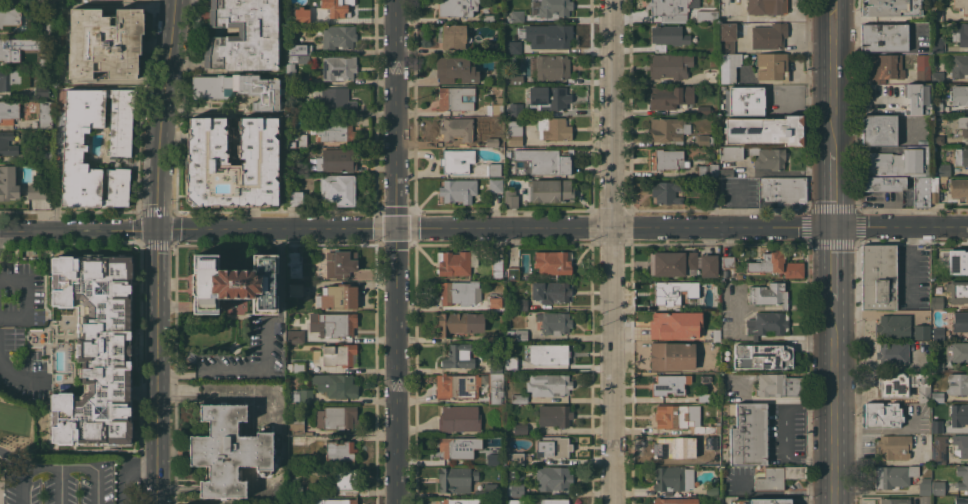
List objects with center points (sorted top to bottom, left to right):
building: (67, 0)
building: (695, 0)
building: (961, 5)
building: (766, 6)
building: (456, 7)
building: (890, 7)
building: (337, 8)
building: (554, 8)
building: (669, 9)
building: (936, 14)
building: (299, 15)
building: (706, 15)
building: (517, 16)
building: (10, 17)
building: (488, 18)
building: (961, 33)
building: (243, 35)
building: (548, 35)
building: (338, 36)
building: (452, 36)
building: (668, 36)
building: (768, 36)
building: (917, 36)
building: (726, 37)
building: (883, 37)
building: (104, 42)
building: (936, 44)
building: (491, 45)
building: (512, 47)
building: (299, 48)
building: (6, 51)
building: (301, 58)
building: (959, 65)
building: (551, 66)
building: (669, 66)
building: (771, 66)
building: (338, 67)
building: (728, 67)
building: (885, 68)
building: (923, 68)
building: (455, 70)
building: (290, 72)
road: (834, 72)
building: (937, 77)
building: (516, 78)
building: (12, 80)
building: (303, 80)
building: (239, 91)
building: (41, 92)
building: (959, 94)
building: (549, 97)
building: (666, 97)
building: (917, 97)
building: (454, 98)
building: (334, 99)
building: (744, 100)
road: (806, 101)
building: (302, 107)
building: (495, 107)
building: (936, 107)
building: (515, 108)
building: (703, 109)
building: (9, 111)
building: (44, 113)
road: (159, 114)
building: (494, 122)
building: (963, 125)
building: (553, 128)
building: (457, 129)
building: (335, 130)
building: (668, 130)
building: (764, 130)
building: (879, 130)
building: (514, 133)
building: (938, 139)
building: (296, 140)
building: (490, 140)
building: (701, 140)
building: (7, 144)
building: (75, 146)
building: (507, 149)
building: (730, 153)
building: (962, 155)
building: (45, 156)
building: (767, 157)
building: (668, 159)
building: (334, 160)
building: (456, 160)
building: (546, 160)
building: (207, 162)
building: (896, 163)
building: (493, 169)
building: (708, 169)
building: (944, 169)
building: (725, 172)
building: (39, 177)
building: (8, 182)
building: (882, 183)
building: (494, 185)
road: (836, 187)
building: (338, 188)
building: (959, 188)
building: (933, 189)
building: (457, 190)
building: (550, 190)
building: (36, 191)
building: (666, 191)
building: (781, 192)
building: (920, 192)
building: (713, 197)
building: (295, 198)
building: (510, 198)
road: (561, 228)
road: (77, 229)
traffic signals: (155, 229)
traffic signals: (836, 230)
road: (395, 251)
road: (610, 252)
building: (939, 258)
building: (961, 260)
building: (727, 261)
building: (456, 262)
building: (552, 262)
building: (340, 263)
building: (671, 263)
building: (293, 264)
building: (776, 264)
road: (911, 265)
building: (708, 266)
building: (496, 268)
building: (512, 272)
road: (836, 272)
building: (878, 277)
building: (715, 282)
building: (233, 283)
building: (293, 287)
building: (550, 291)
building: (673, 291)
building: (957, 291)
building: (456, 292)
building: (334, 293)
building: (768, 294)
building: (936, 302)
building: (495, 304)
building: (520, 304)
building: (296, 305)
building: (960, 321)
building: (554, 322)
building: (456, 323)
building: (767, 323)
building: (333, 324)
building: (675, 324)
building: (893, 326)
road: (157, 330)
building: (921, 332)
building: (937, 333)
building: (716, 334)
building: (295, 335)
building: (521, 335)
building: (510, 336)
building: (90, 349)
road: (269, 350)
building: (959, 351)
building: (548, 353)
building: (892, 353)
building: (339, 355)
building: (458, 356)
building: (672, 356)
building: (761, 356)
building: (509, 362)
building: (495, 366)
building: (299, 367)
road: (17, 375)
building: (705, 378)
building: (957, 383)
building: (335, 384)
building: (548, 384)
building: (669, 384)
building: (457, 385)
building: (778, 385)
building: (904, 385)
building: (495, 387)
building: (303, 396)
building: (703, 397)
building: (937, 397)
building: (519, 398)
road: (835, 408)
building: (882, 414)
building: (958, 414)
building: (554, 415)
building: (336, 417)
building: (459, 418)
building: (682, 418)
building: (297, 425)
building: (936, 426)
building: (520, 429)
road: (782, 432)
building: (748, 434)
building: (960, 445)
building: (894, 446)
building: (457, 447)
building: (554, 447)
building: (672, 447)
building: (938, 449)
building: (229, 450)
building: (337, 451)
building: (707, 457)
road: (14, 458)
building: (490, 458)
building: (516, 458)
building: (716, 462)
road: (76, 464)
road: (43, 465)
park: (55, 466)
road: (156, 467)
road: (125, 473)
building: (512, 473)
building: (776, 476)
building: (894, 476)
building: (962, 477)
building: (672, 478)
building: (345, 479)
building: (455, 479)
building: (554, 479)
parking lot: (57, 482)
road: (21, 484)
road: (59, 484)
road: (96, 485)
building: (924, 486)
building: (937, 487)
building: (490, 489)
building: (514, 489)
building: (296, 490)
building: (711, 490)
building: (675, 500)
building: (961, 500)
building: (334, 501)
building: (461, 501)
building: (553, 501)
building: (760, 501)
building: (895, 501)

